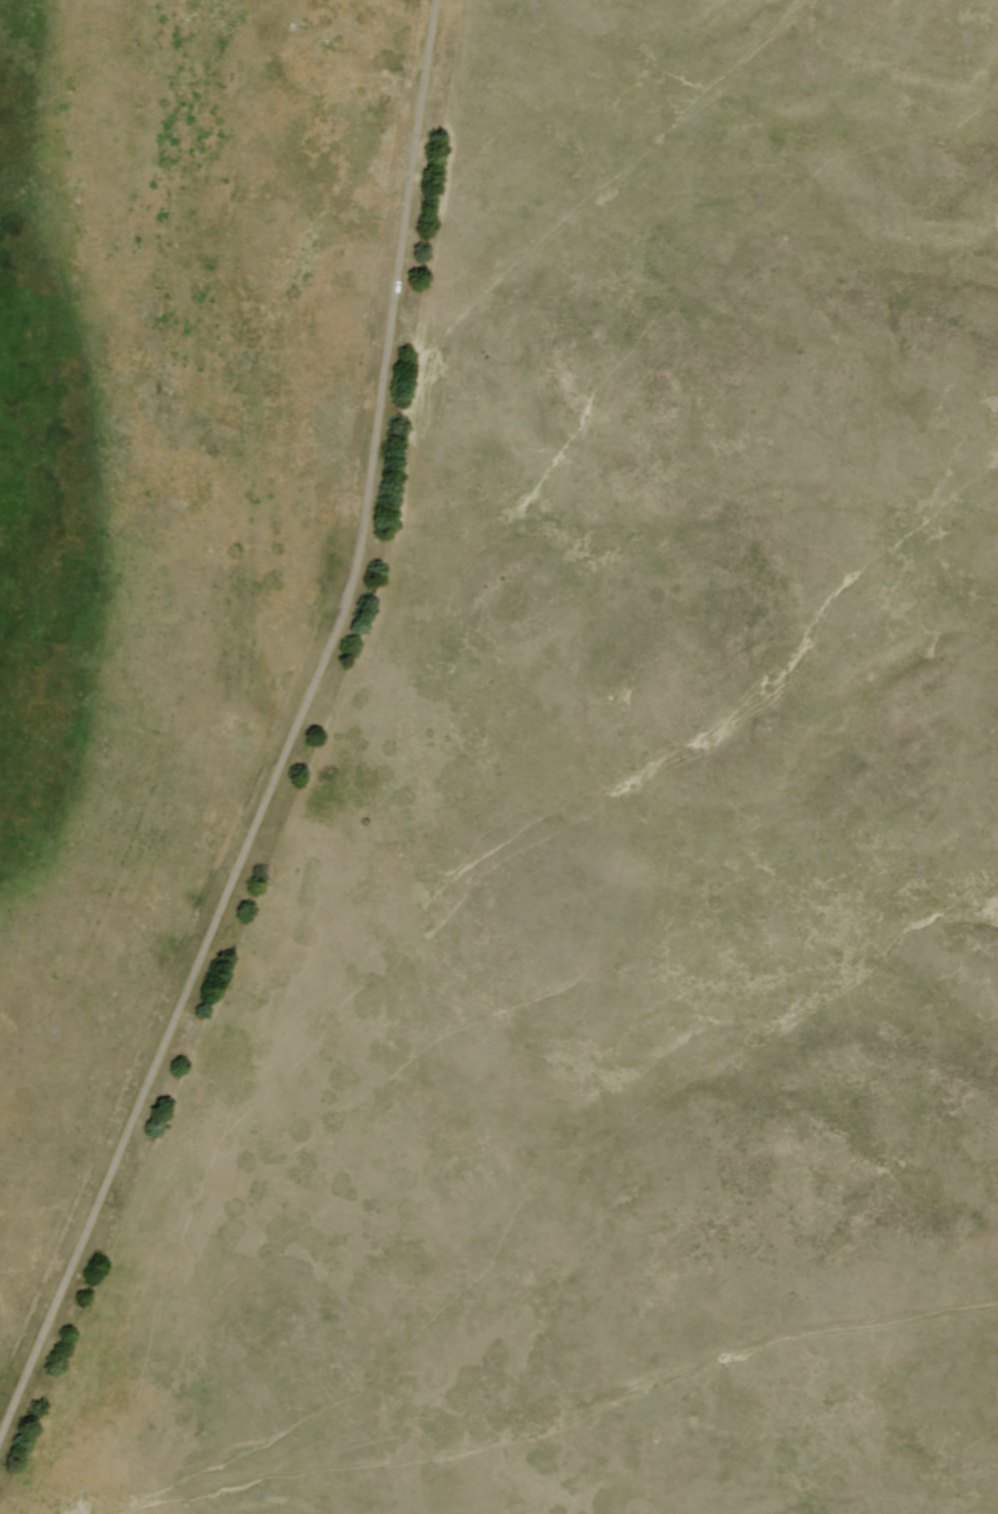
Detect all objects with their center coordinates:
road: (290, 738)

